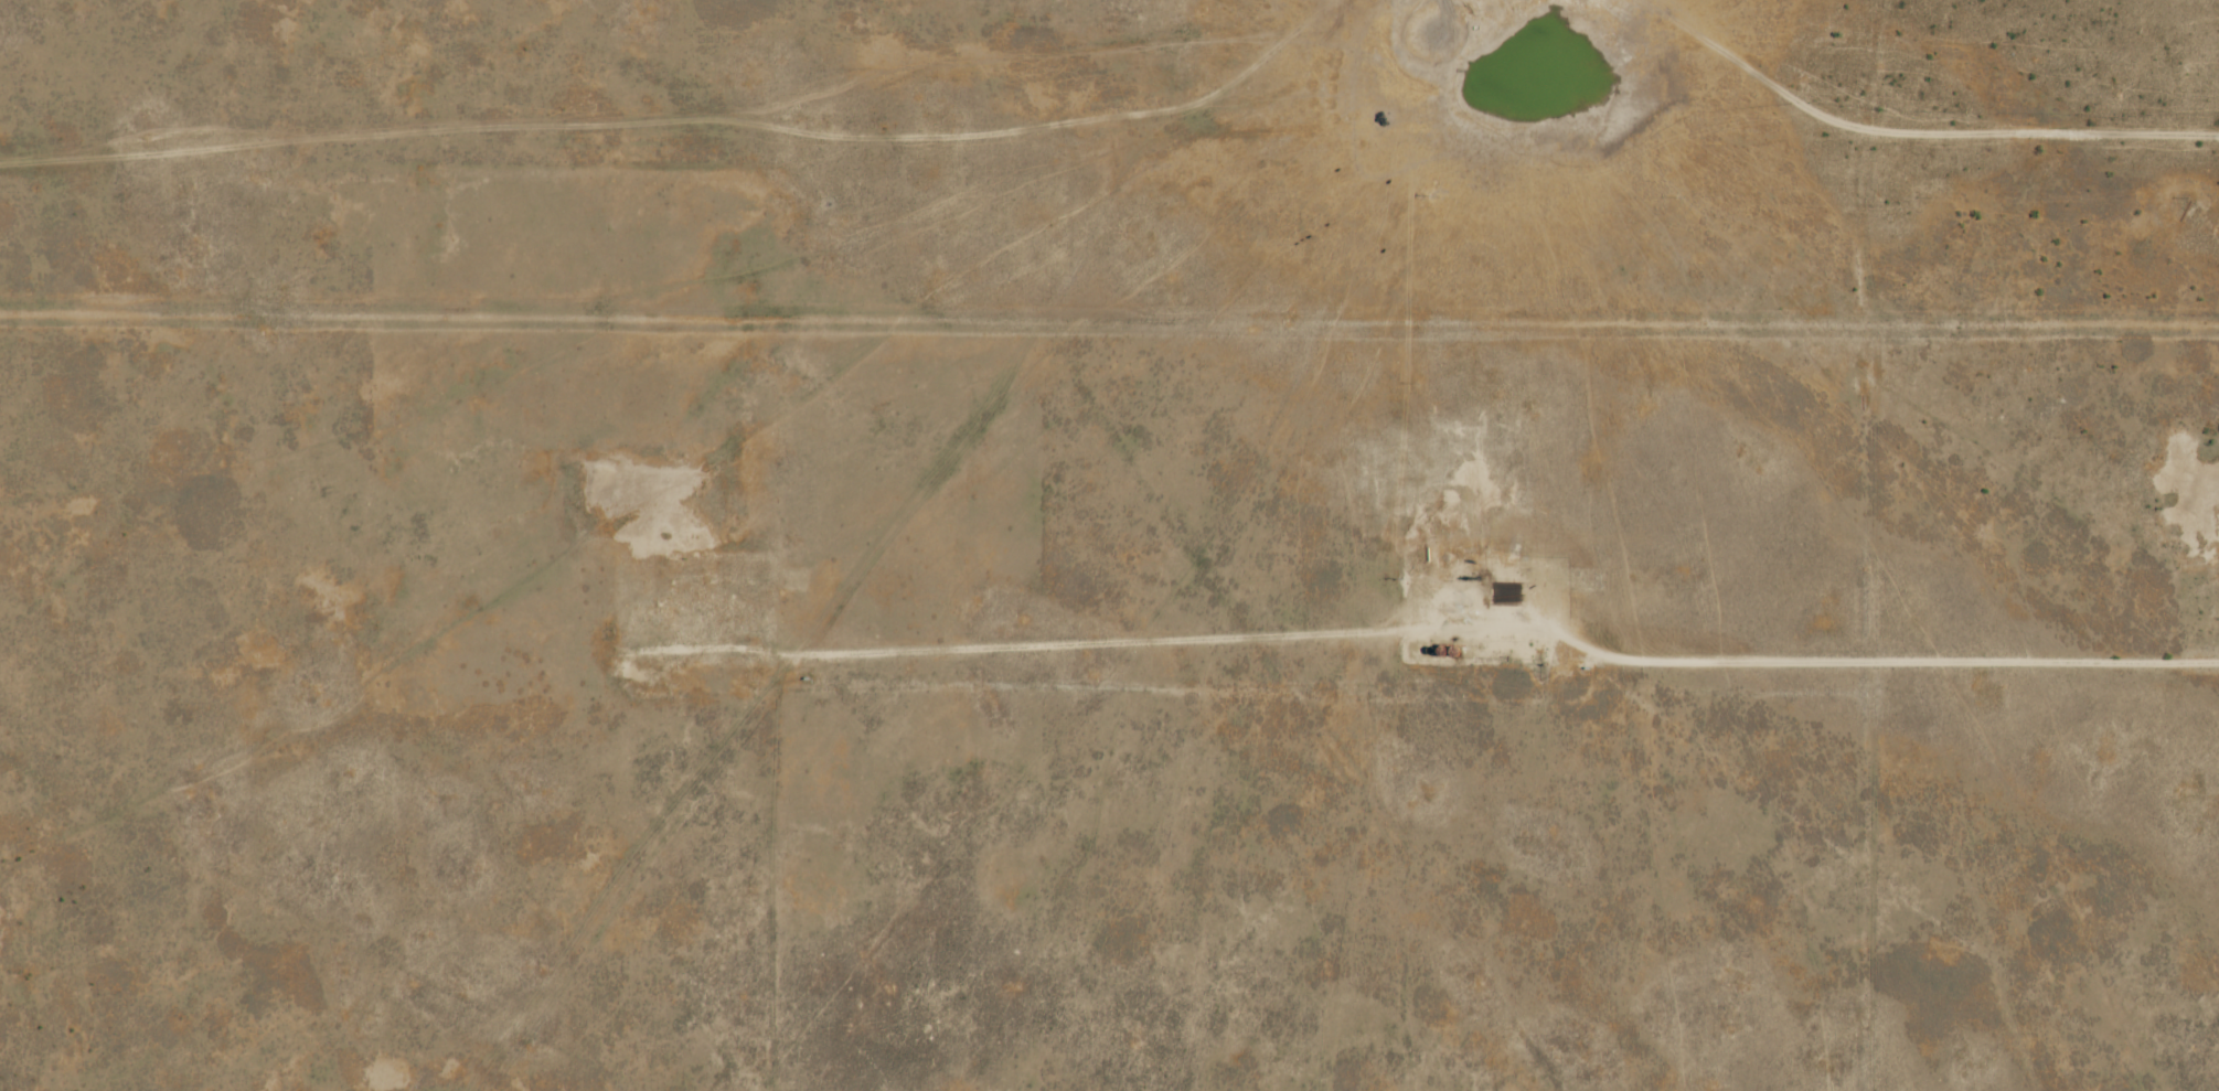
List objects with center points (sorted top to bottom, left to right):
road: (840, 514)

